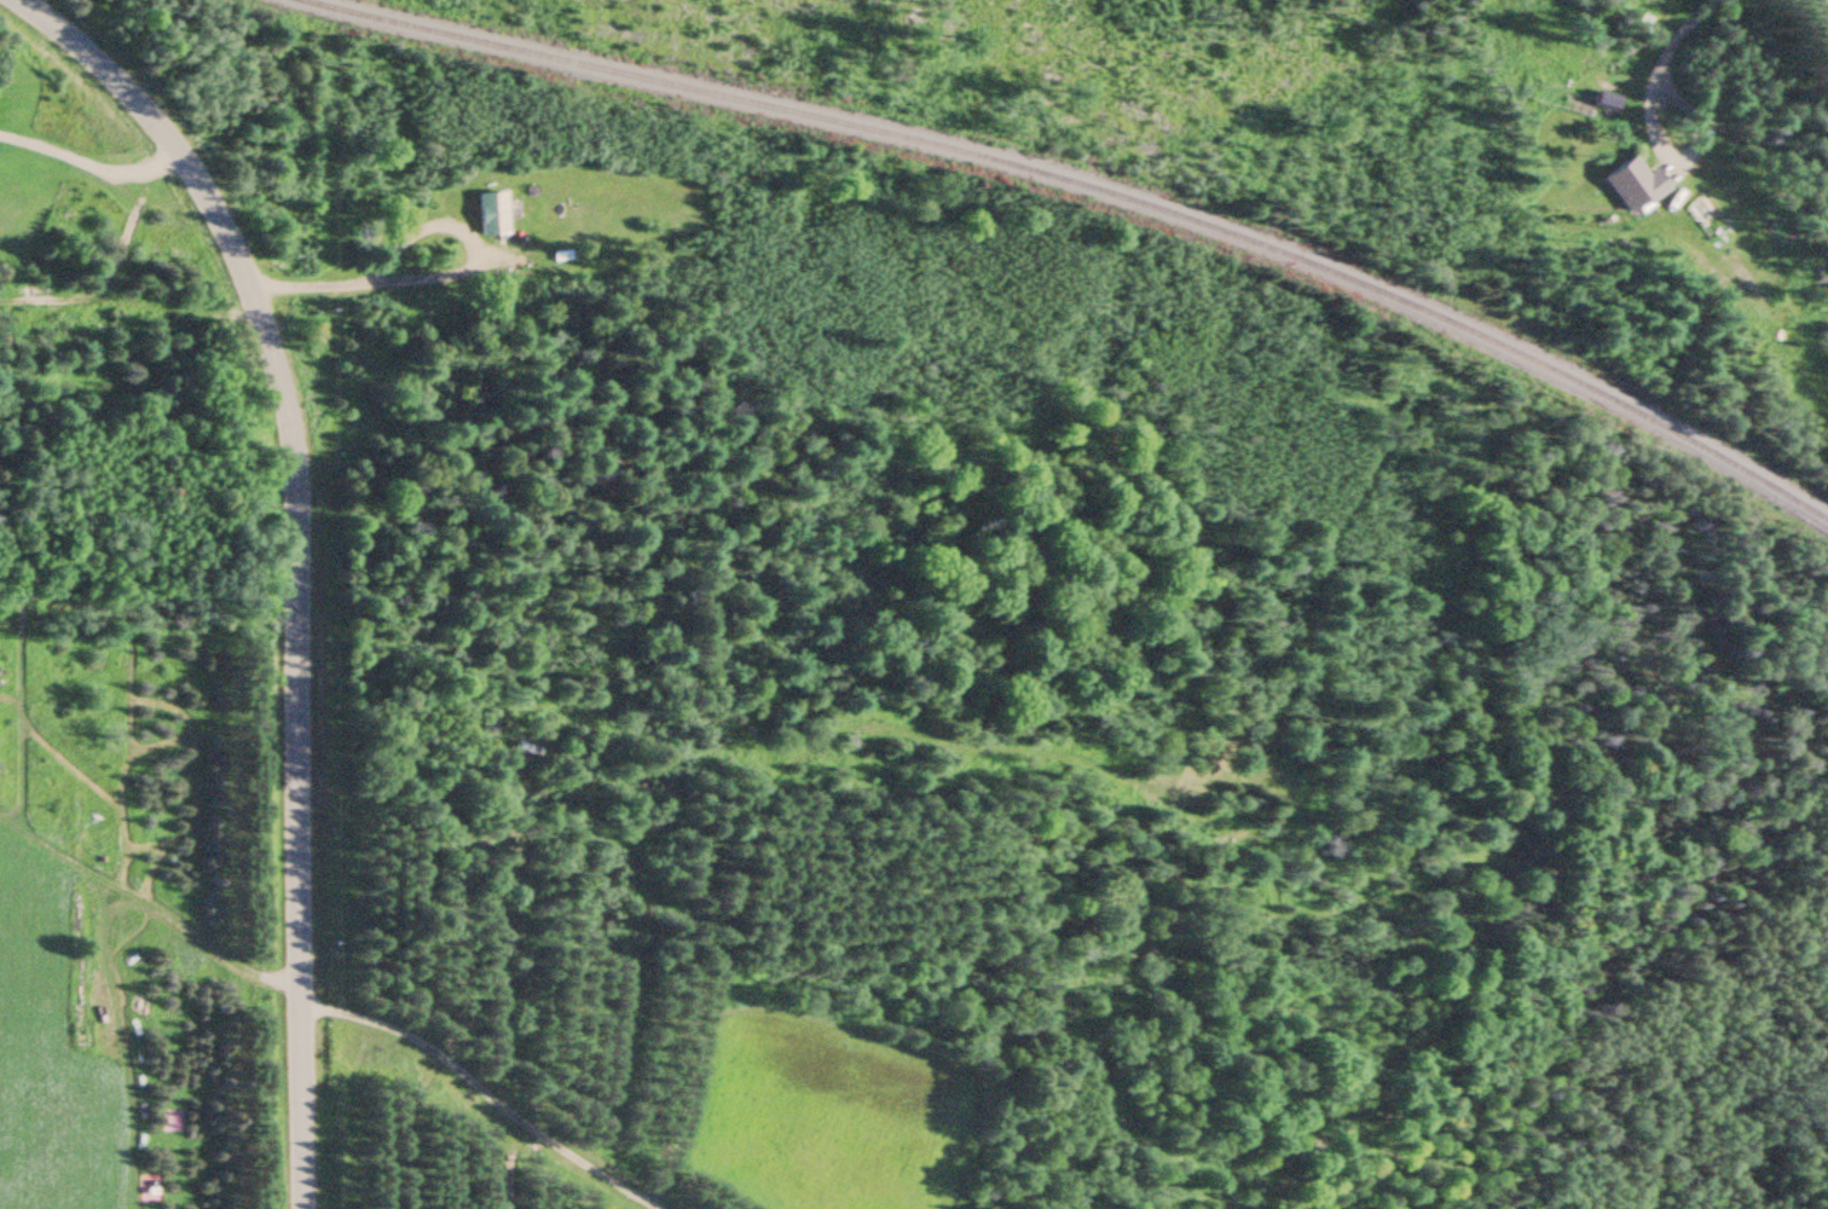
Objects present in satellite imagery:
railway: (1107, 185)
building: (492, 214)
road: (377, 279)
road: (295, 559)
road: (478, 1092)

